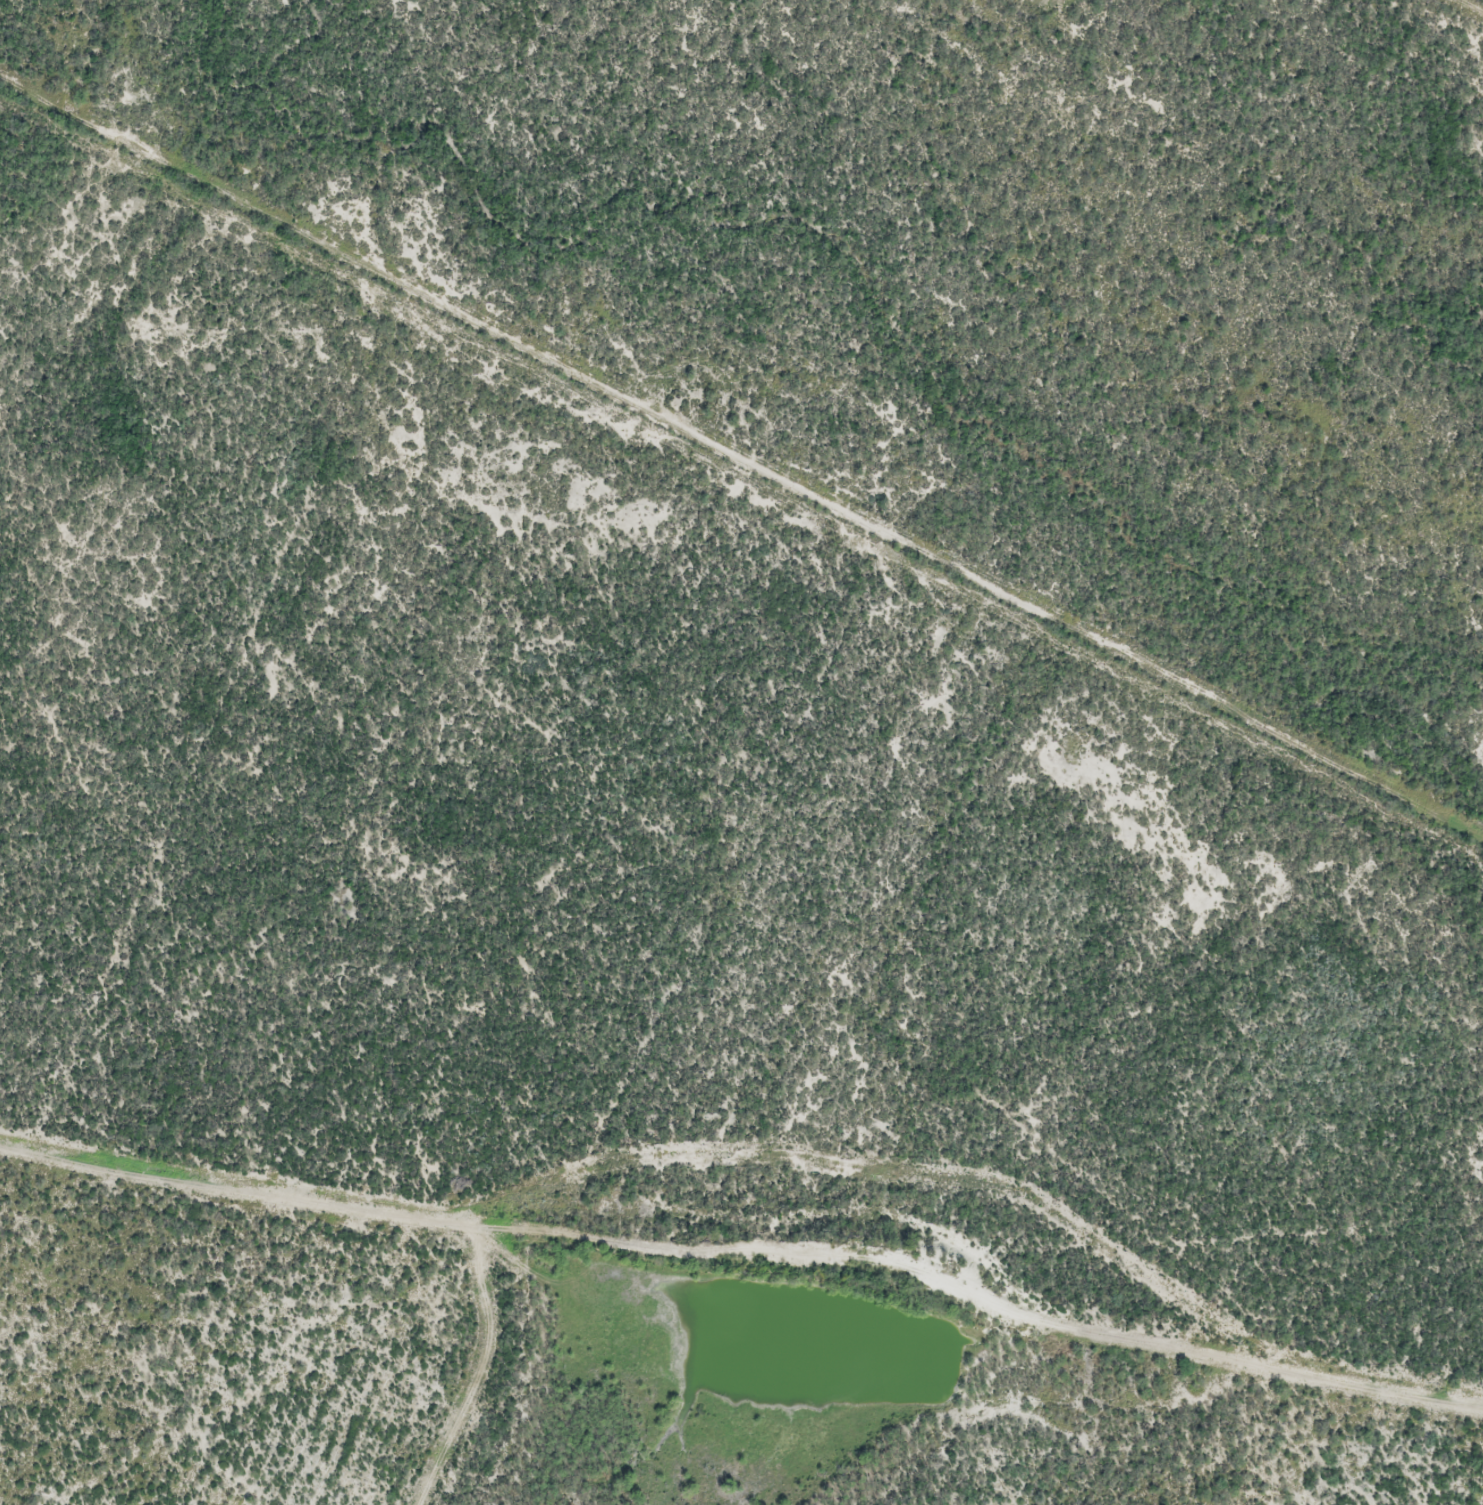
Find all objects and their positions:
road: (740, 1297)

